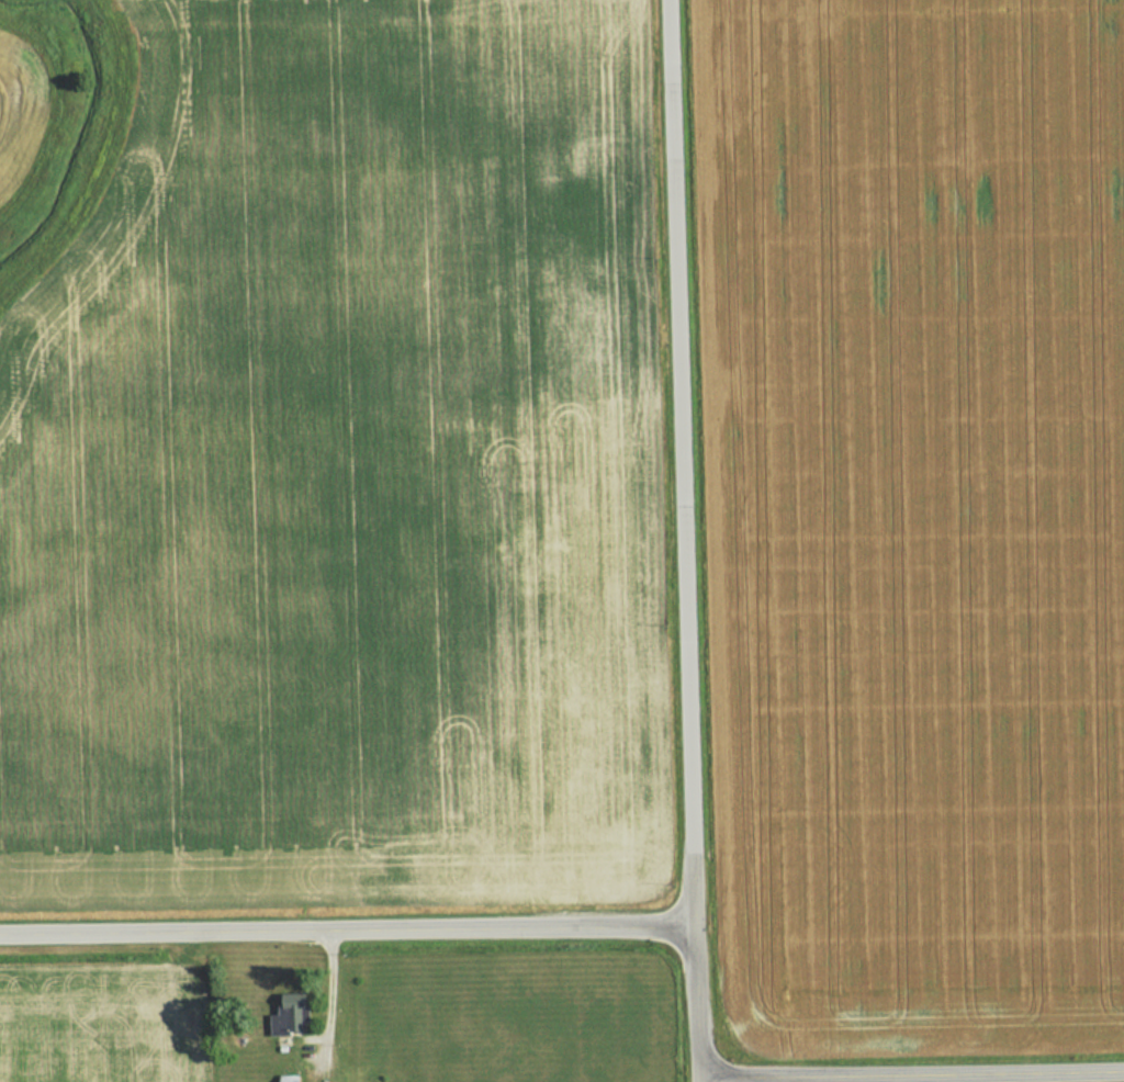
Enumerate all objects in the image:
crop: (18, 108)
crop: (337, 472)
crop: (912, 520)
road: (681, 541)
road: (346, 931)
crop: (102, 1027)
road: (911, 1078)

